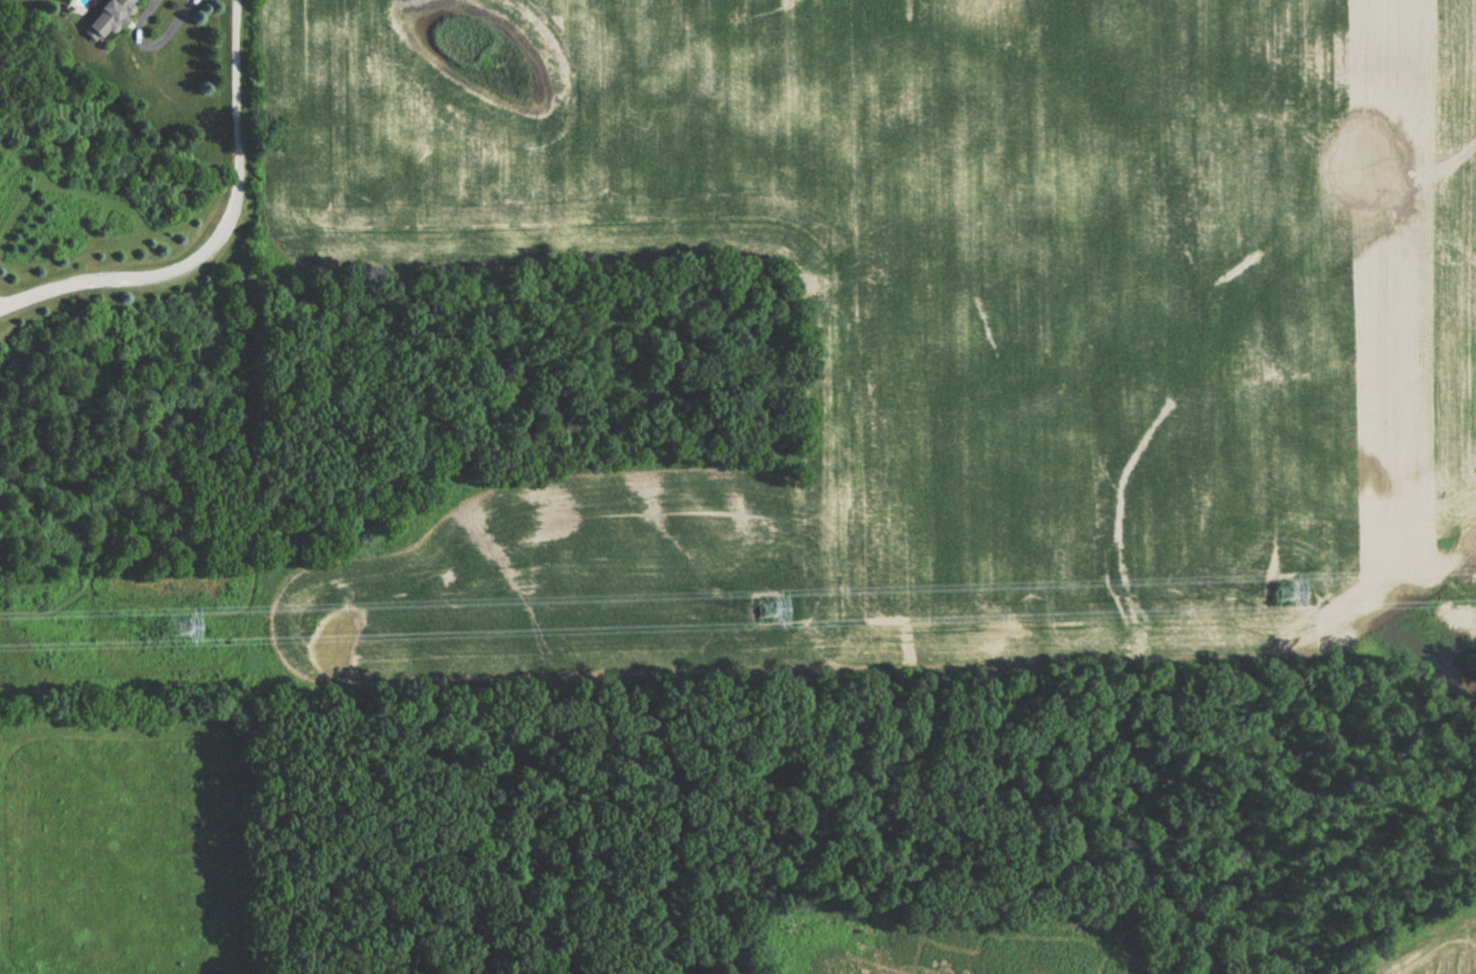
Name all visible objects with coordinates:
building: (106, 18)
road: (154, 38)
road: (220, 237)
power tower: (1273, 592)
power tower: (754, 607)
power tower: (166, 625)

